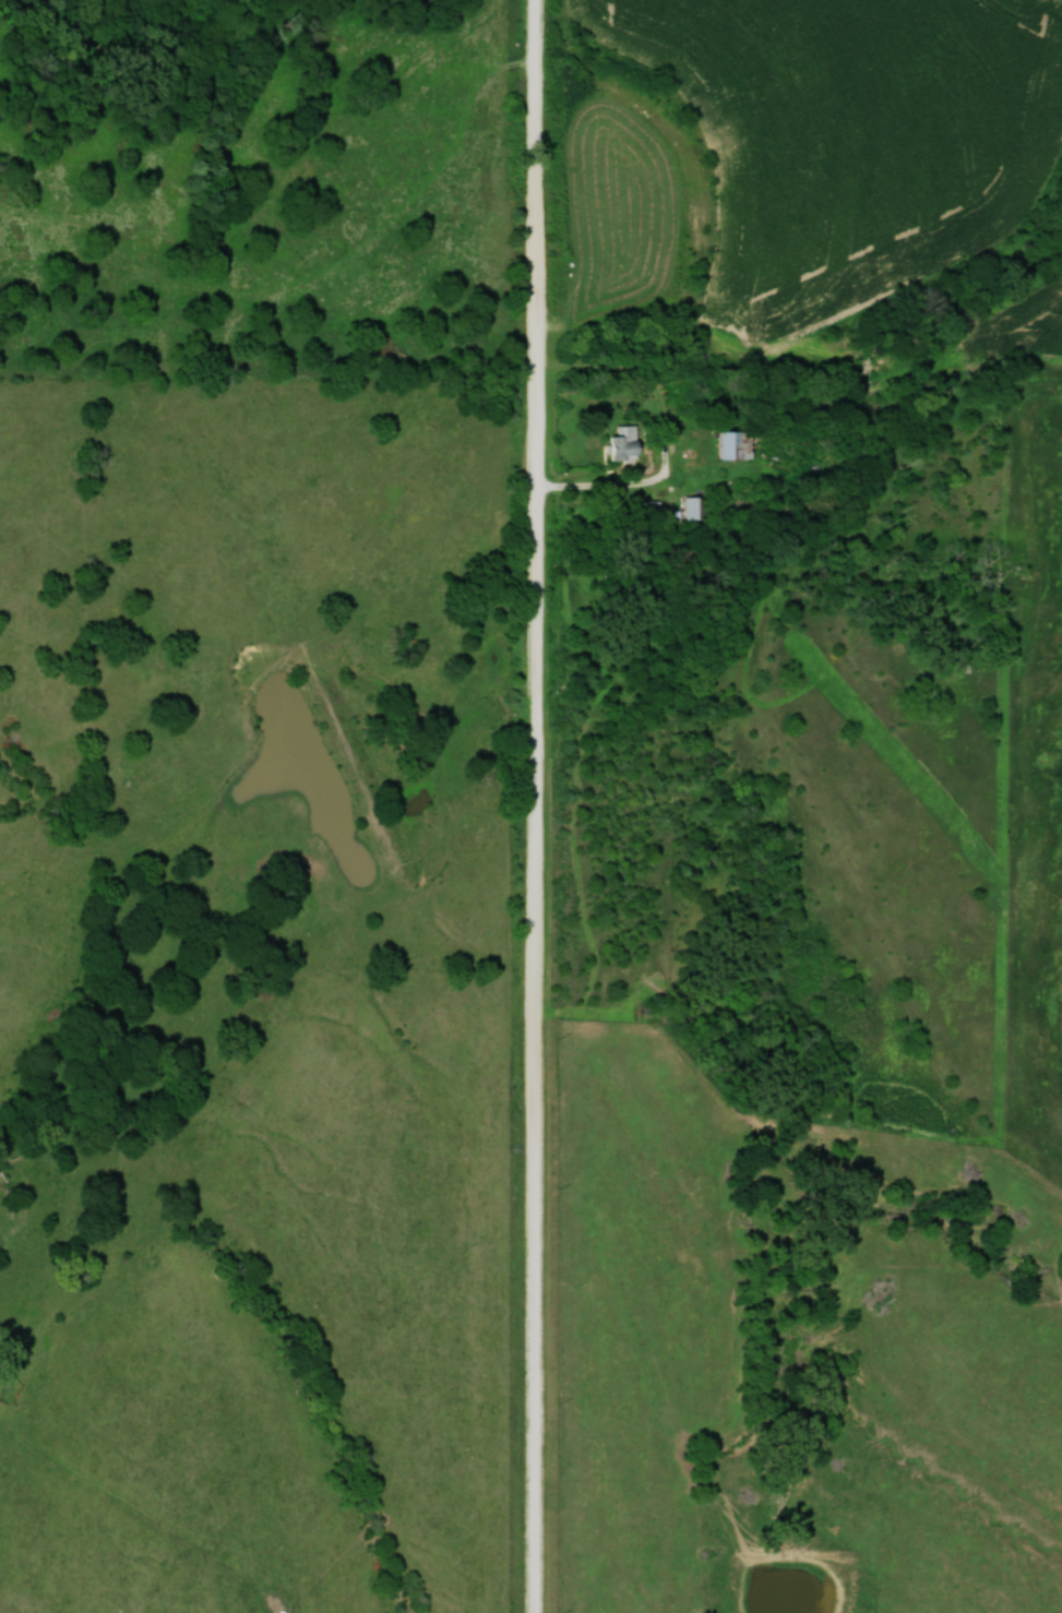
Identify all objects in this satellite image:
building: (683, 397)
building: (629, 441)
building: (740, 443)
road: (600, 491)
building: (695, 506)
road: (536, 805)

